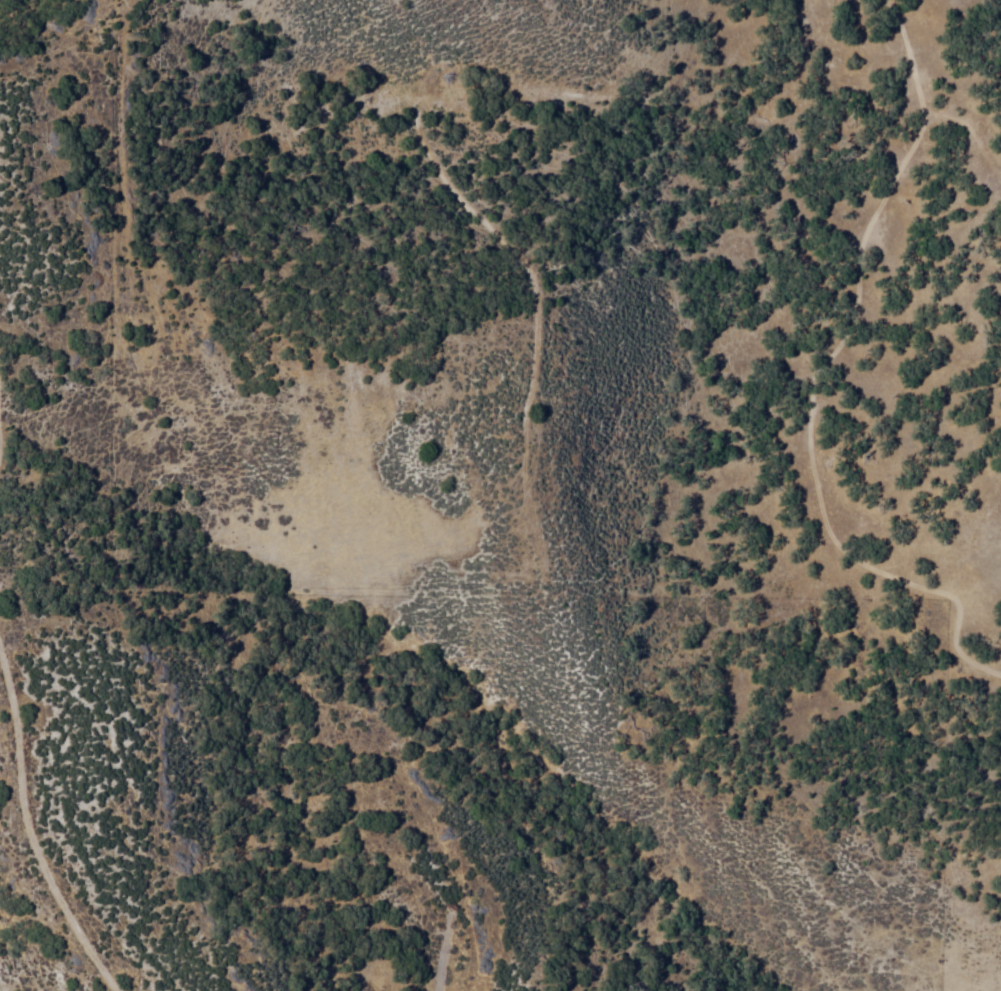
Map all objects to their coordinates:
building: (802, 20)

